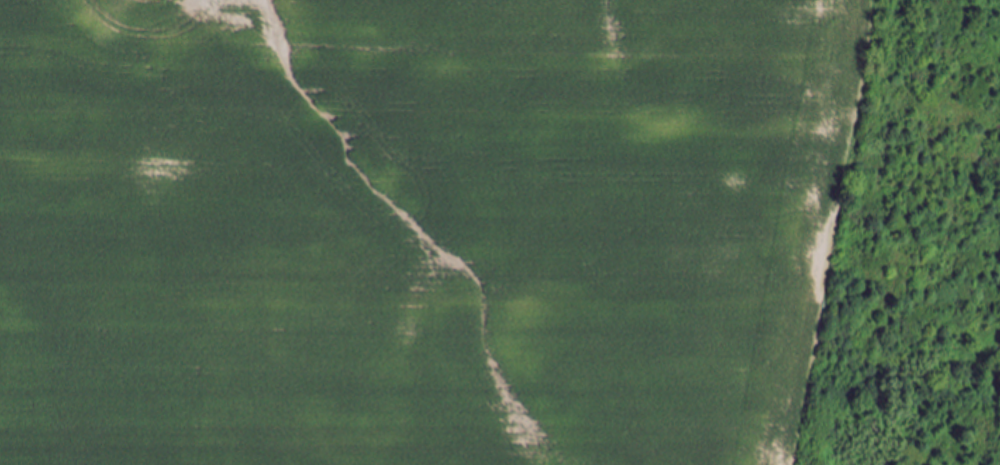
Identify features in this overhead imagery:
crop: (418, 228)

